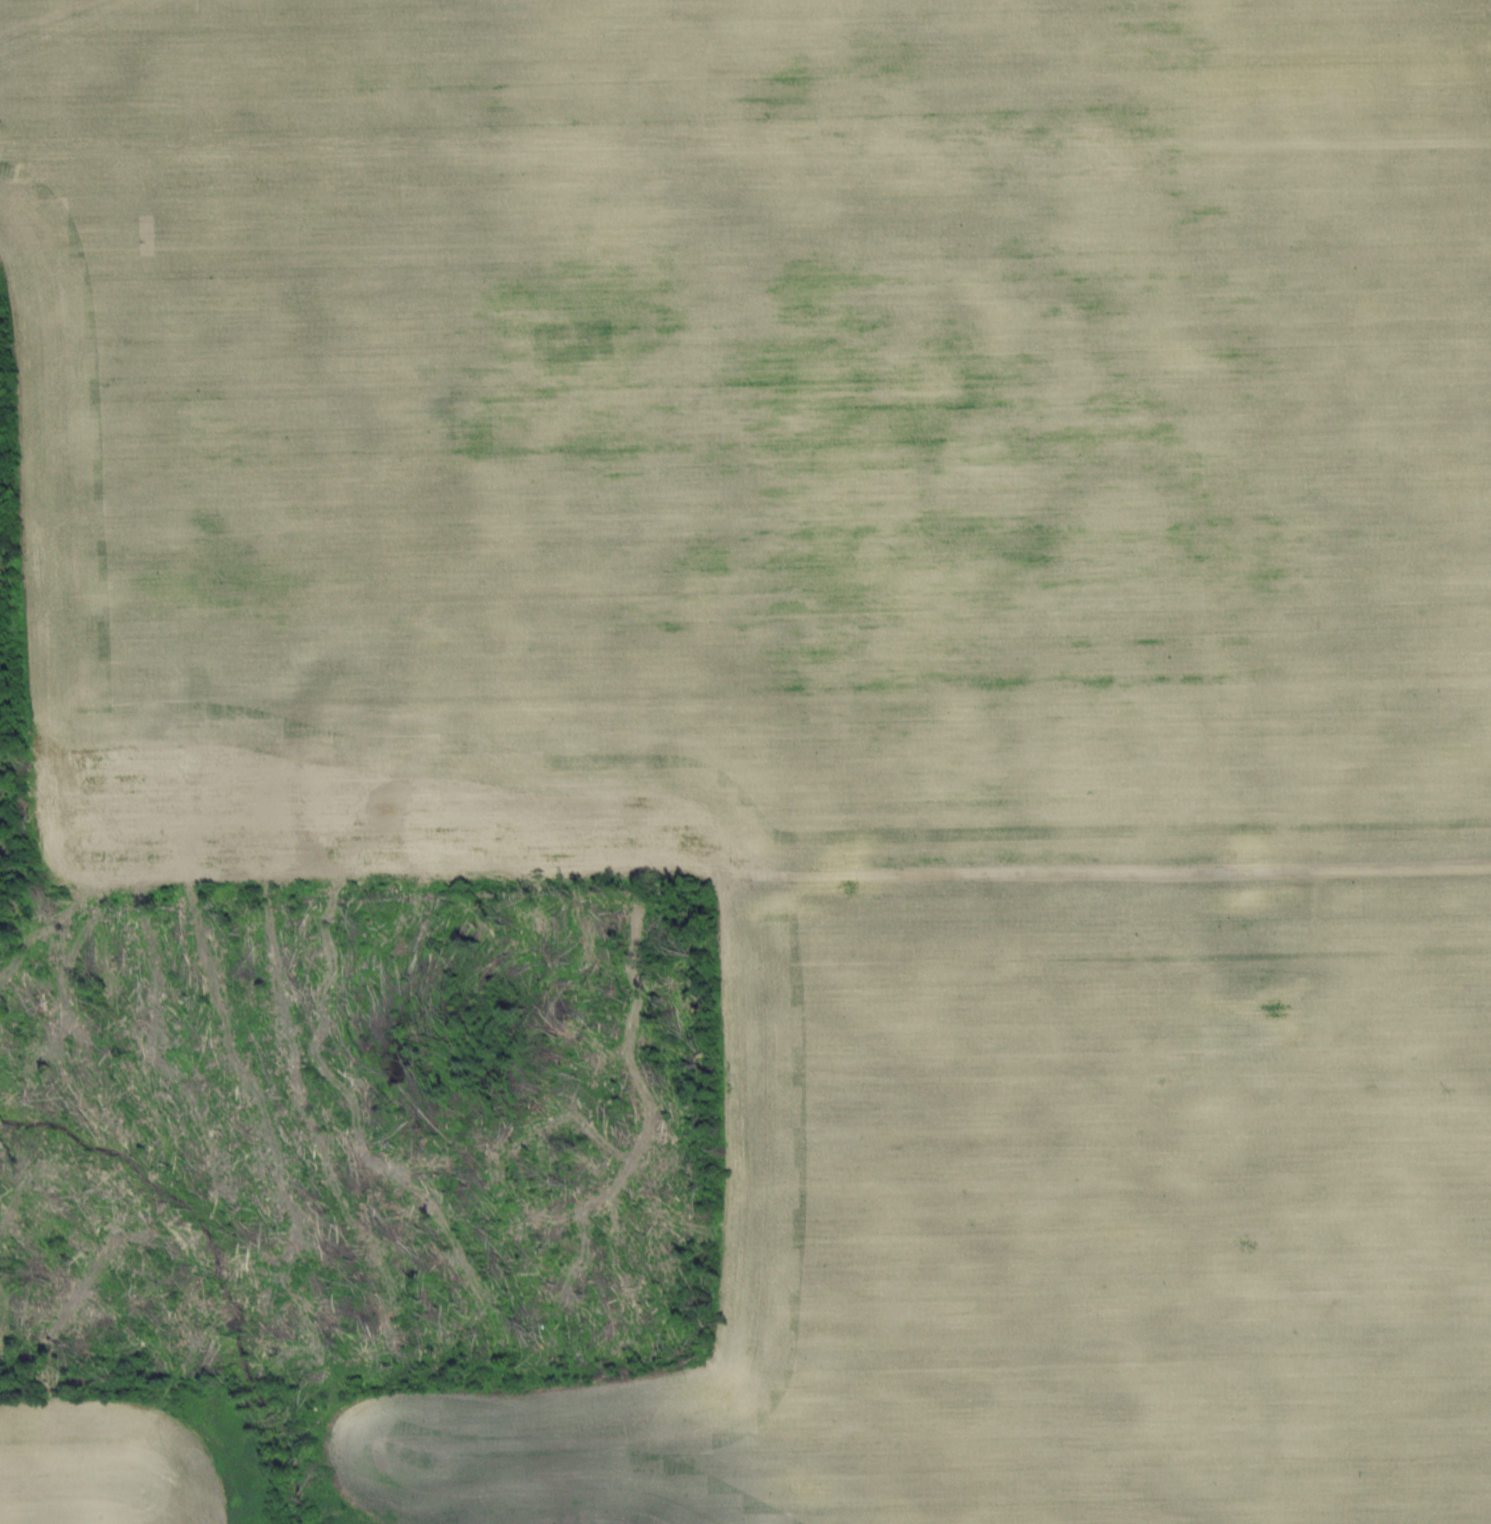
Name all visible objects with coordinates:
road: (1329, 850)

